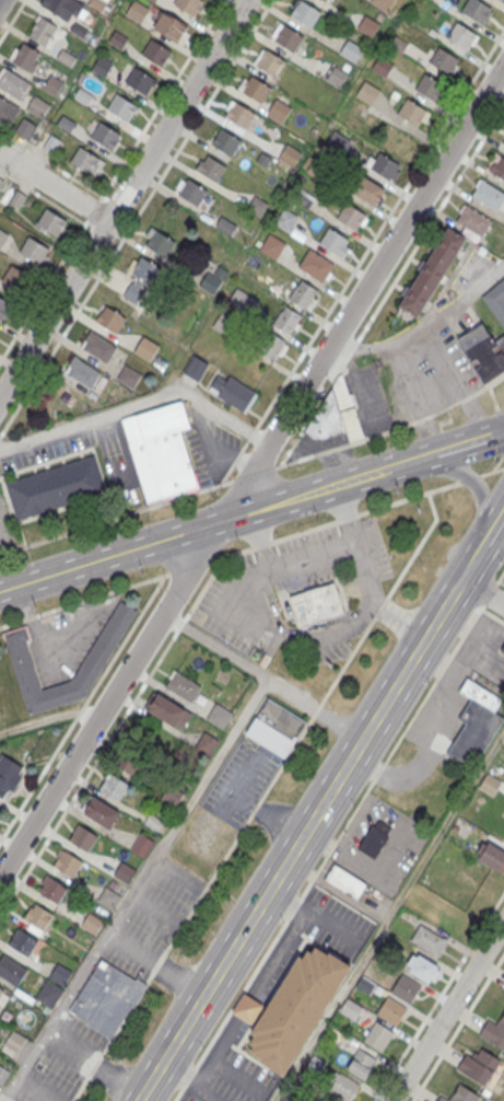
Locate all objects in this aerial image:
road: (0, 0)
building: (325, 0)
building: (500, 0)
building: (383, 3)
building: (189, 4)
building: (59, 8)
building: (477, 9)
building: (137, 12)
building: (305, 12)
road: (11, 18)
building: (367, 24)
building: (171, 25)
building: (43, 33)
building: (461, 35)
building: (288, 37)
building: (351, 50)
building: (155, 51)
building: (25, 59)
building: (444, 60)
building: (270, 62)
building: (101, 65)
building: (382, 66)
building: (141, 80)
building: (13, 83)
building: (52, 84)
building: (429, 85)
building: (256, 89)
building: (367, 92)
road: (161, 100)
building: (121, 106)
building: (3, 107)
building: (37, 107)
building: (278, 111)
building: (411, 112)
building: (239, 115)
building: (25, 129)
building: (105, 135)
building: (225, 140)
building: (503, 141)
building: (290, 154)
building: (84, 159)
road: (52, 164)
building: (499, 165)
building: (211, 167)
building: (385, 167)
building: (1, 182)
road: (55, 186)
building: (368, 189)
building: (192, 192)
building: (489, 194)
road: (44, 197)
building: (16, 199)
road: (121, 199)
road: (113, 202)
road: (93, 209)
building: (350, 216)
road: (134, 218)
building: (285, 219)
building: (473, 220)
building: (51, 222)
building: (224, 225)
road: (378, 227)
road: (95, 229)
building: (2, 237)
building: (333, 241)
building: (160, 242)
building: (272, 246)
building: (34, 250)
building: (315, 265)
building: (144, 269)
building: (432, 273)
building: (14, 277)
road: (391, 285)
road: (43, 289)
building: (304, 294)
building: (495, 298)
building: (4, 306)
building: (110, 318)
building: (288, 320)
road: (423, 323)
building: (271, 345)
building: (98, 346)
building: (146, 348)
building: (483, 352)
building: (195, 367)
building: (82, 371)
building: (128, 376)
building: (232, 392)
road: (493, 398)
road: (139, 403)
building: (338, 414)
road: (391, 428)
road: (501, 428)
road: (249, 432)
road: (471, 441)
parking lot: (209, 451)
building: (159, 452)
road: (232, 461)
road: (499, 462)
parking lot: (117, 465)
road: (491, 472)
road: (250, 473)
road: (254, 474)
road: (468, 478)
building: (56, 486)
road: (479, 488)
road: (115, 517)
road: (220, 522)
road: (495, 528)
parking lot: (5, 530)
road: (305, 530)
road: (415, 545)
road: (219, 557)
road: (313, 558)
road: (473, 560)
road: (192, 565)
road: (500, 577)
road: (501, 581)
road: (482, 593)
road: (489, 593)
parking lot: (295, 594)
road: (84, 599)
road: (377, 607)
building: (316, 609)
road: (492, 615)
road: (172, 621)
road: (396, 623)
road: (179, 625)
road: (479, 635)
parking lot: (67, 639)
road: (318, 640)
road: (448, 641)
building: (503, 649)
parking lot: (489, 651)
building: (97, 656)
road: (478, 658)
road: (437, 661)
road: (345, 662)
road: (271, 681)
building: (183, 686)
building: (480, 694)
road: (82, 705)
building: (168, 710)
road: (314, 710)
parking lot: (441, 711)
road: (447, 711)
building: (219, 716)
road: (50, 718)
road: (40, 719)
building: (273, 729)
building: (474, 732)
building: (206, 743)
building: (127, 760)
road: (87, 772)
road: (394, 773)
parking lot: (238, 781)
building: (4, 785)
building: (113, 786)
building: (172, 795)
building: (101, 811)
building: (153, 821)
building: (455, 827)
building: (82, 837)
building: (375, 838)
road: (300, 839)
building: (141, 845)
road: (327, 851)
building: (490, 854)
building: (67, 861)
building: (124, 872)
building: (345, 881)
building: (52, 889)
road: (134, 890)
building: (108, 897)
road: (192, 908)
road: (388, 915)
building: (38, 916)
parking lot: (148, 926)
building: (427, 939)
building: (23, 941)
road: (155, 965)
building: (424, 966)
building: (10, 970)
building: (60, 973)
building: (1, 990)
building: (48, 993)
road: (438, 995)
building: (105, 998)
parking lot: (247, 1005)
building: (387, 1006)
building: (295, 1007)
building: (247, 1008)
building: (351, 1008)
road: (449, 1011)
road: (457, 1027)
building: (494, 1032)
building: (378, 1036)
building: (14, 1040)
parking lot: (63, 1063)
road: (94, 1063)
building: (361, 1063)
building: (316, 1064)
building: (479, 1065)
building: (3, 1074)
building: (339, 1087)
building: (461, 1094)
road: (4, 1096)
building: (290, 1099)
road: (11, 1100)

